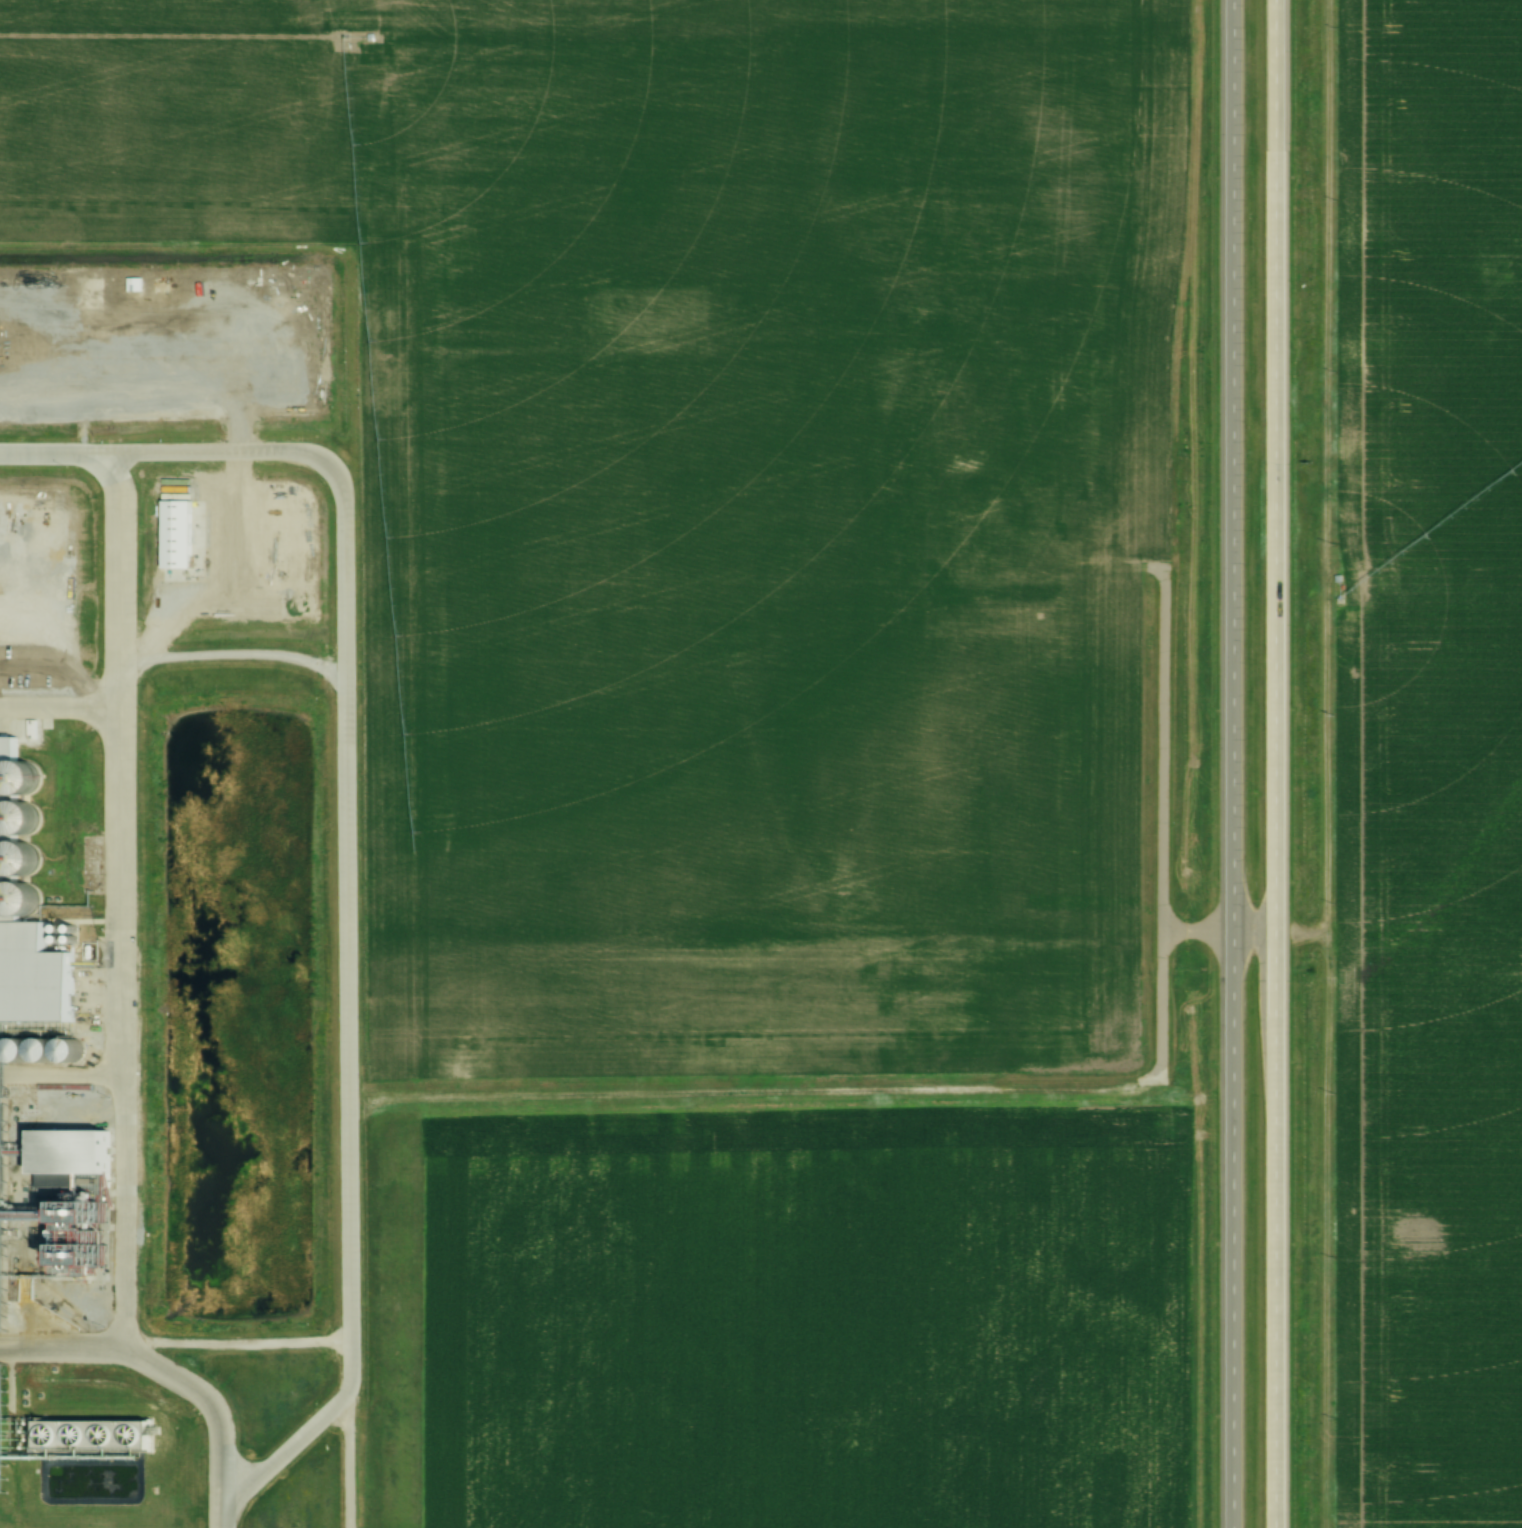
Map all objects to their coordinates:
building: (1281, 161)
road: (63, 701)
road: (1272, 763)
road: (1230, 764)
building: (34, 767)
road: (1163, 821)
road: (127, 843)
road: (1197, 935)
road: (1251, 935)
building: (36, 977)
road: (64, 1071)
road: (449, 1092)
road: (346, 1097)
building: (2, 1250)
road: (349, 1304)
road: (175, 1370)
building: (3, 1478)

